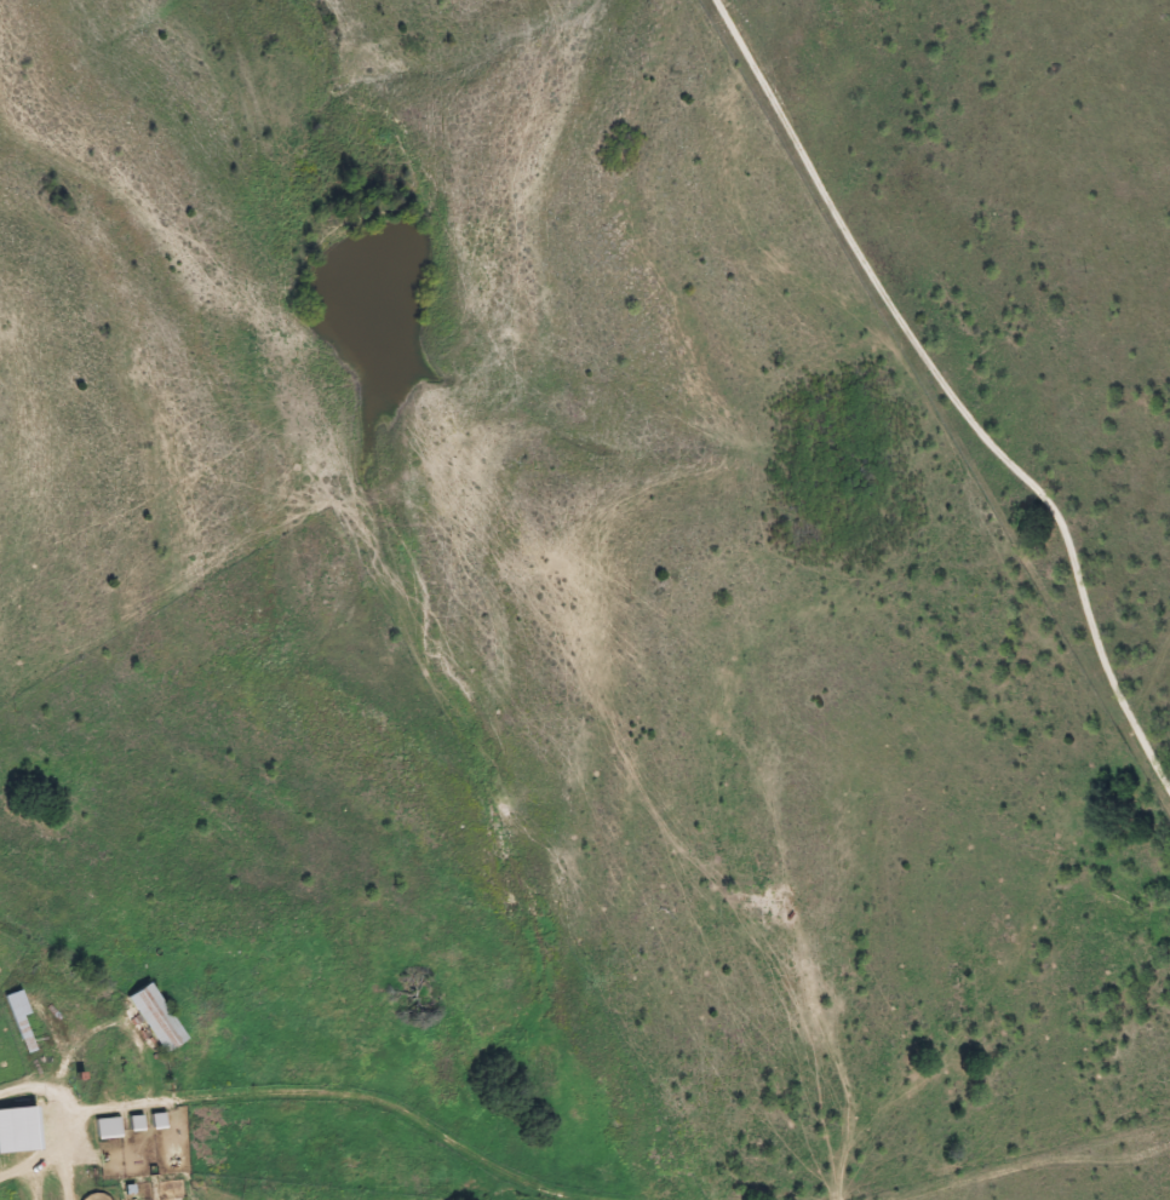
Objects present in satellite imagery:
road: (1020, 936)
building: (21, 1018)
building: (157, 1020)
road: (356, 1104)
building: (137, 1125)
building: (108, 1129)
road: (74, 1144)
road: (36, 1152)
road: (1032, 1162)
road: (801, 1167)

